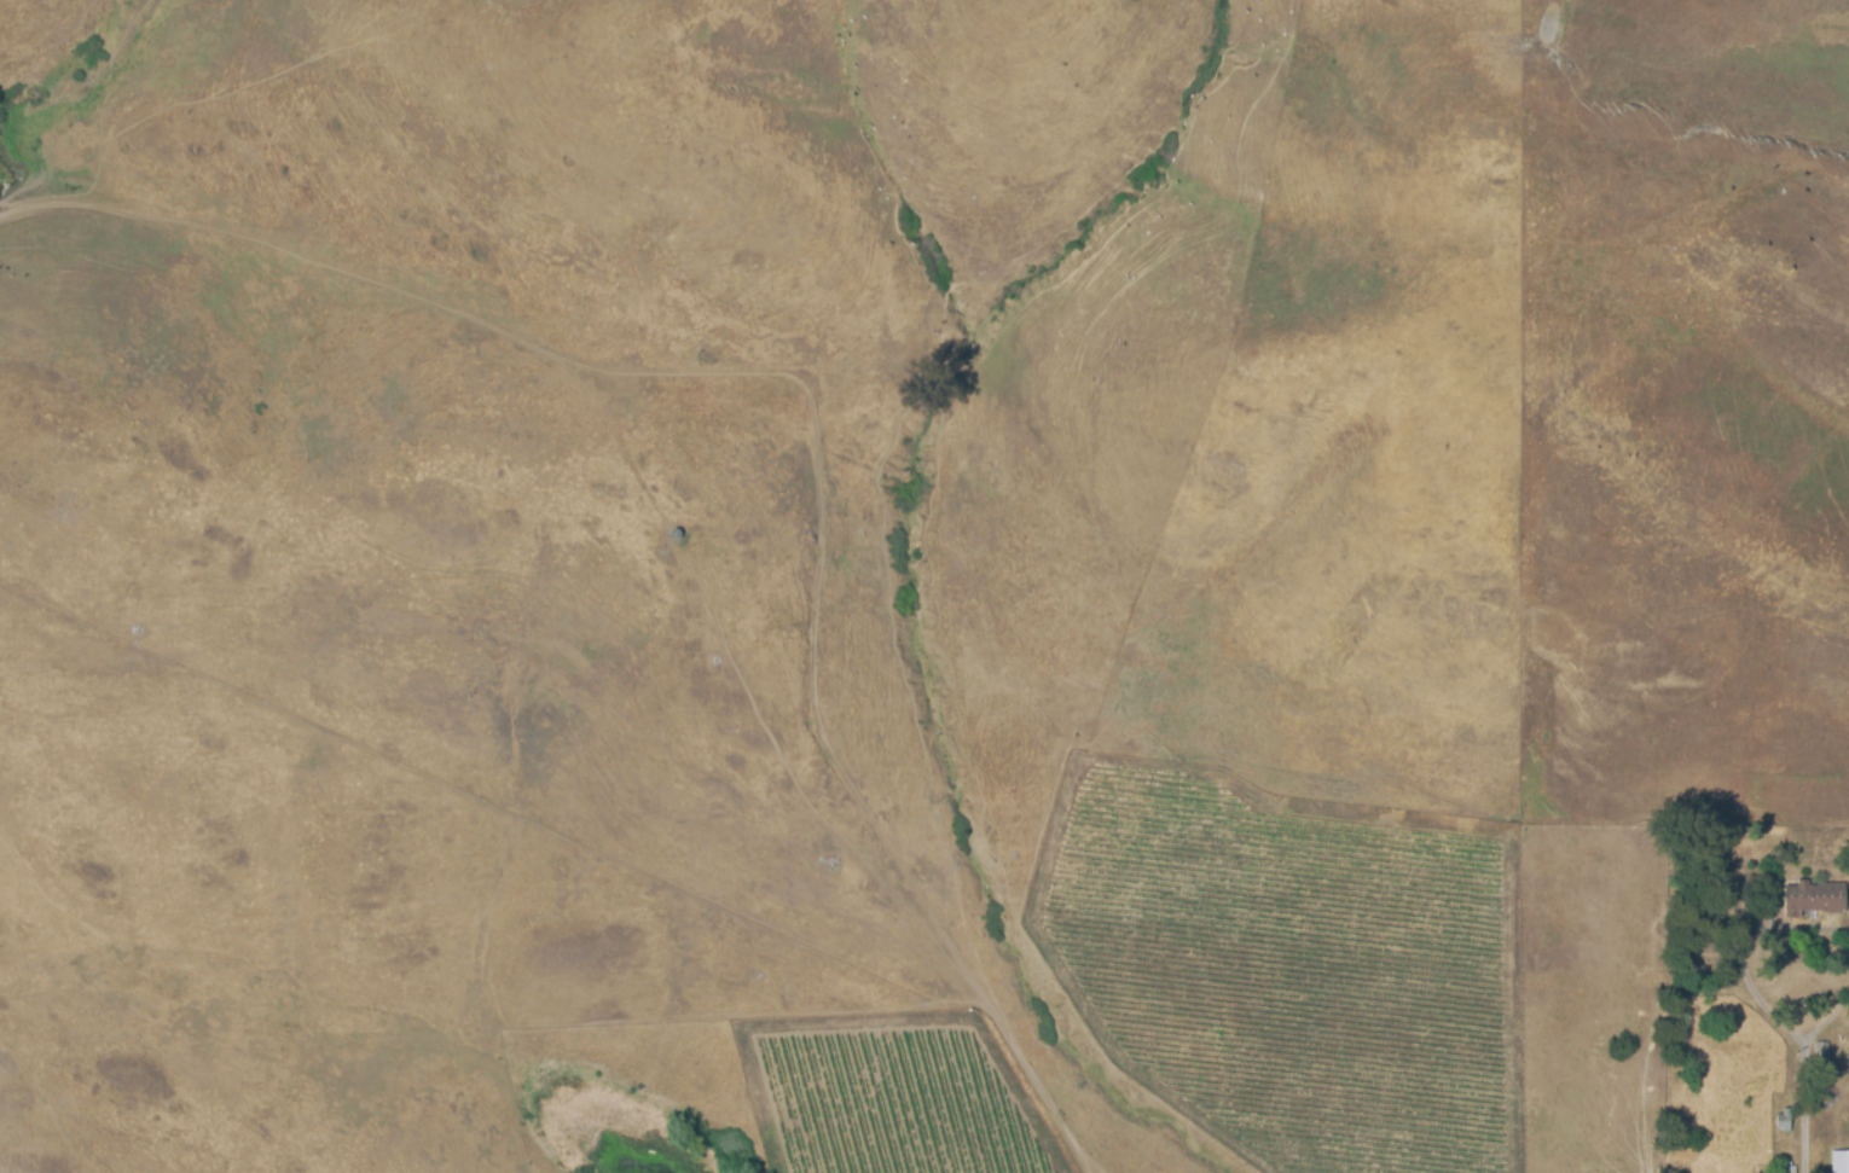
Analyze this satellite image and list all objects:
building: (1814, 900)
road: (1746, 979)
building: (1820, 1053)
road: (1803, 1086)
building: (1785, 1119)
building: (1841, 1161)
building: (1787, 1168)

